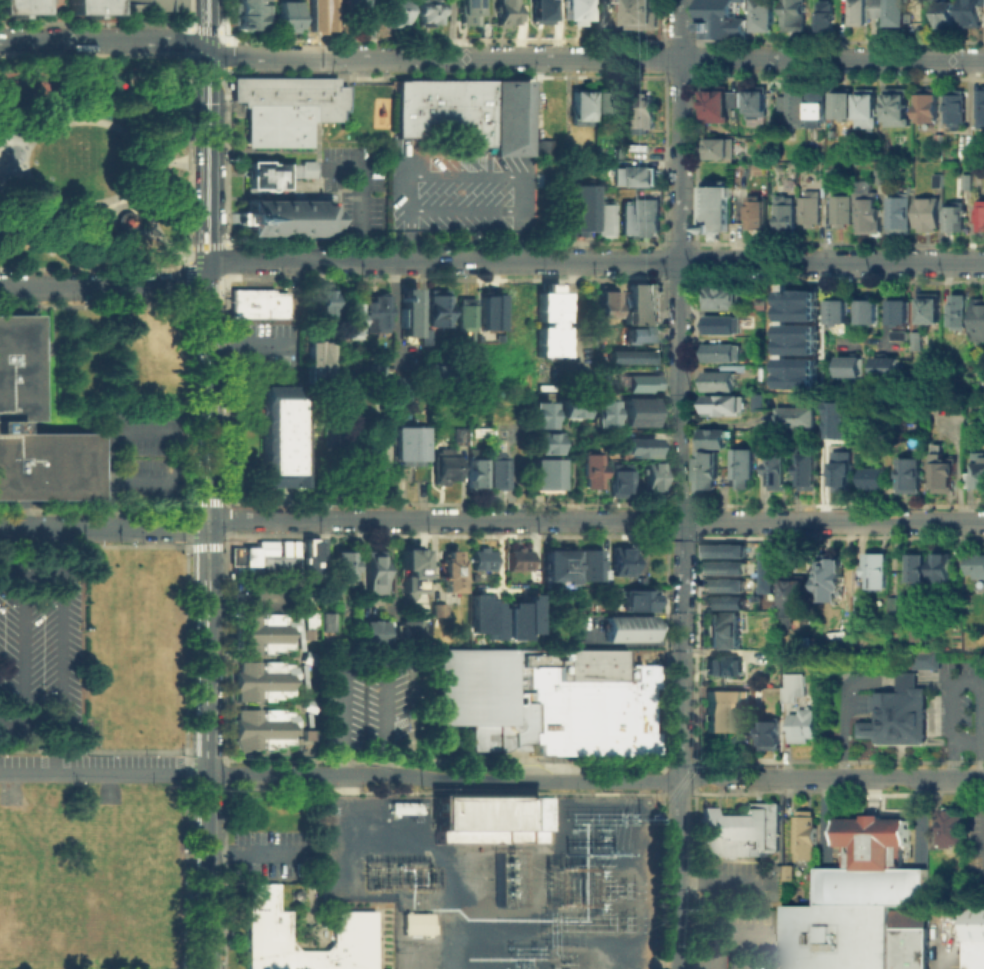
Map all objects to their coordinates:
building: (155, 7)
building: (19, 8)
building: (90, 9)
building: (572, 11)
building: (867, 11)
building: (542, 12)
building: (361, 13)
building: (427, 14)
building: (469, 14)
building: (506, 14)
building: (973, 14)
building: (325, 15)
building: (395, 15)
building: (603, 15)
building: (796, 15)
building: (253, 16)
building: (643, 16)
building: (899, 16)
building: (766, 17)
building: (947, 17)
building: (827, 18)
building: (289, 20)
building: (724, 20)
road: (214, 23)
road: (107, 40)
road: (191, 47)
road: (597, 59)
road: (202, 74)
park: (31, 88)
road: (151, 90)
road: (120, 98)
building: (759, 104)
building: (605, 105)
building: (845, 105)
building: (722, 106)
building: (795, 106)
road: (140, 107)
building: (928, 107)
building: (580, 108)
building: (818, 108)
building: (899, 109)
building: (957, 110)
building: (982, 110)
building: (446, 111)
building: (869, 111)
building: (288, 112)
building: (644, 116)
road: (118, 120)
building: (512, 121)
road: (13, 140)
building: (718, 149)
building: (545, 151)
building: (622, 153)
building: (638, 154)
fountain: (14, 156)
building: (966, 156)
road: (191, 157)
road: (214, 157)
road: (141, 159)
park: (93, 160)
road: (166, 161)
building: (763, 171)
building: (307, 172)
road: (13, 175)
building: (835, 175)
building: (880, 176)
building: (267, 178)
road: (522, 178)
building: (887, 178)
building: (638, 180)
building: (940, 183)
building: (970, 183)
parking lot: (357, 190)
parking lot: (451, 194)
road: (361, 199)
road: (108, 205)
building: (717, 209)
building: (813, 209)
building: (578, 212)
building: (844, 212)
road: (116, 213)
building: (788, 213)
building: (759, 214)
building: (869, 214)
building: (929, 216)
building: (900, 217)
building: (982, 217)
building: (956, 218)
building: (287, 221)
road: (153, 222)
building: (651, 222)
building: (124, 223)
building: (605, 223)
building: (629, 223)
road: (151, 237)
road: (411, 237)
road: (202, 245)
road: (597, 261)
road: (188, 270)
road: (108, 285)
building: (723, 298)
building: (321, 302)
building: (643, 304)
building: (798, 304)
building: (257, 306)
building: (487, 309)
building: (608, 309)
building: (439, 310)
building: (932, 310)
building: (405, 311)
building: (902, 313)
building: (841, 314)
building: (872, 314)
building: (961, 314)
road: (773, 315)
building: (463, 316)
building: (374, 317)
building: (350, 319)
building: (980, 322)
building: (550, 323)
building: (727, 327)
building: (637, 336)
road: (209, 337)
building: (902, 337)
building: (798, 338)
building: (425, 339)
building: (915, 339)
building: (922, 342)
parking lot: (259, 346)
road: (251, 348)
building: (724, 354)
building: (314, 359)
building: (630, 359)
building: (17, 366)
building: (852, 367)
building: (890, 368)
building: (430, 372)
building: (798, 372)
building: (376, 376)
building: (618, 379)
building: (722, 383)
building: (639, 385)
road: (681, 388)
building: (761, 405)
building: (730, 407)
building: (565, 411)
building: (598, 417)
building: (637, 417)
building: (800, 418)
building: (534, 419)
building: (841, 419)
road: (721, 422)
building: (280, 435)
building: (456, 435)
building: (770, 439)
building: (717, 440)
building: (539, 447)
building: (867, 447)
building: (412, 449)
building: (636, 450)
building: (444, 468)
building: (748, 469)
building: (783, 469)
building: (947, 470)
building: (814, 471)
building: (590, 472)
building: (847, 472)
building: (714, 473)
building: (981, 473)
building: (498, 474)
building: (476, 475)
building: (543, 475)
building: (650, 478)
building: (914, 478)
building: (877, 479)
building: (617, 483)
road: (765, 488)
road: (205, 500)
road: (598, 520)
road: (98, 528)
road: (213, 535)
road: (197, 536)
road: (205, 545)
building: (726, 549)
building: (259, 559)
building: (313, 560)
building: (482, 561)
building: (519, 561)
building: (620, 563)
building: (726, 566)
building: (588, 567)
building: (978, 567)
building: (407, 568)
building: (773, 569)
building: (923, 569)
building: (949, 569)
building: (447, 570)
building: (343, 571)
building: (557, 571)
building: (882, 572)
building: (375, 576)
building: (838, 581)
building: (726, 583)
building: (633, 599)
building: (801, 599)
building: (726, 600)
building: (868, 605)
building: (900, 606)
building: (480, 616)
building: (517, 616)
road: (59, 617)
building: (329, 624)
building: (309, 627)
building: (720, 628)
building: (627, 631)
building: (407, 633)
building: (263, 634)
building: (369, 637)
road: (23, 647)
parking lot: (41, 649)
road: (363, 656)
building: (930, 661)
building: (726, 668)
road: (964, 677)
building: (264, 683)
building: (471, 686)
building: (797, 688)
building: (759, 693)
parking lot: (365, 702)
building: (576, 703)
building: (724, 708)
building: (902, 716)
road: (846, 717)
road: (30, 720)
building: (805, 727)
building: (262, 732)
building: (773, 734)
building: (308, 737)
road: (964, 741)
building: (456, 742)
road: (60, 747)
road: (103, 774)
road: (595, 780)
road: (207, 816)
building: (484, 818)
road: (920, 821)
building: (954, 829)
building: (743, 834)
building: (807, 838)
building: (875, 846)
parking lot: (275, 851)
road: (251, 852)
parking lot: (975, 856)
road: (678, 873)
building: (790, 875)
power substation: (496, 877)
building: (877, 891)
parking lot: (744, 917)
building: (414, 922)
building: (264, 925)
road: (722, 928)
building: (975, 928)
building: (840, 939)
building: (911, 950)
building: (975, 956)
road: (696, 958)

